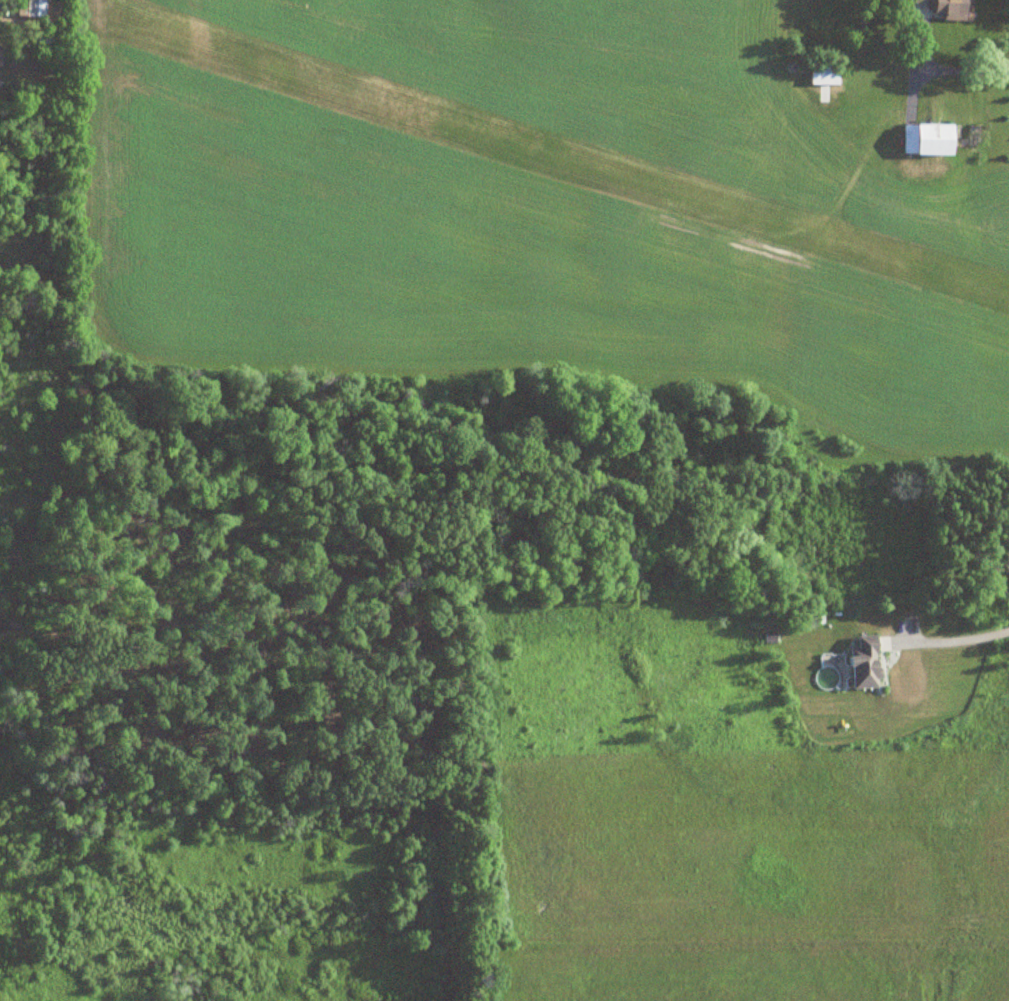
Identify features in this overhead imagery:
building: (41, 0)
building: (940, 9)
road: (973, 76)
building: (923, 142)
crop: (534, 210)
road: (958, 639)
building: (860, 664)

